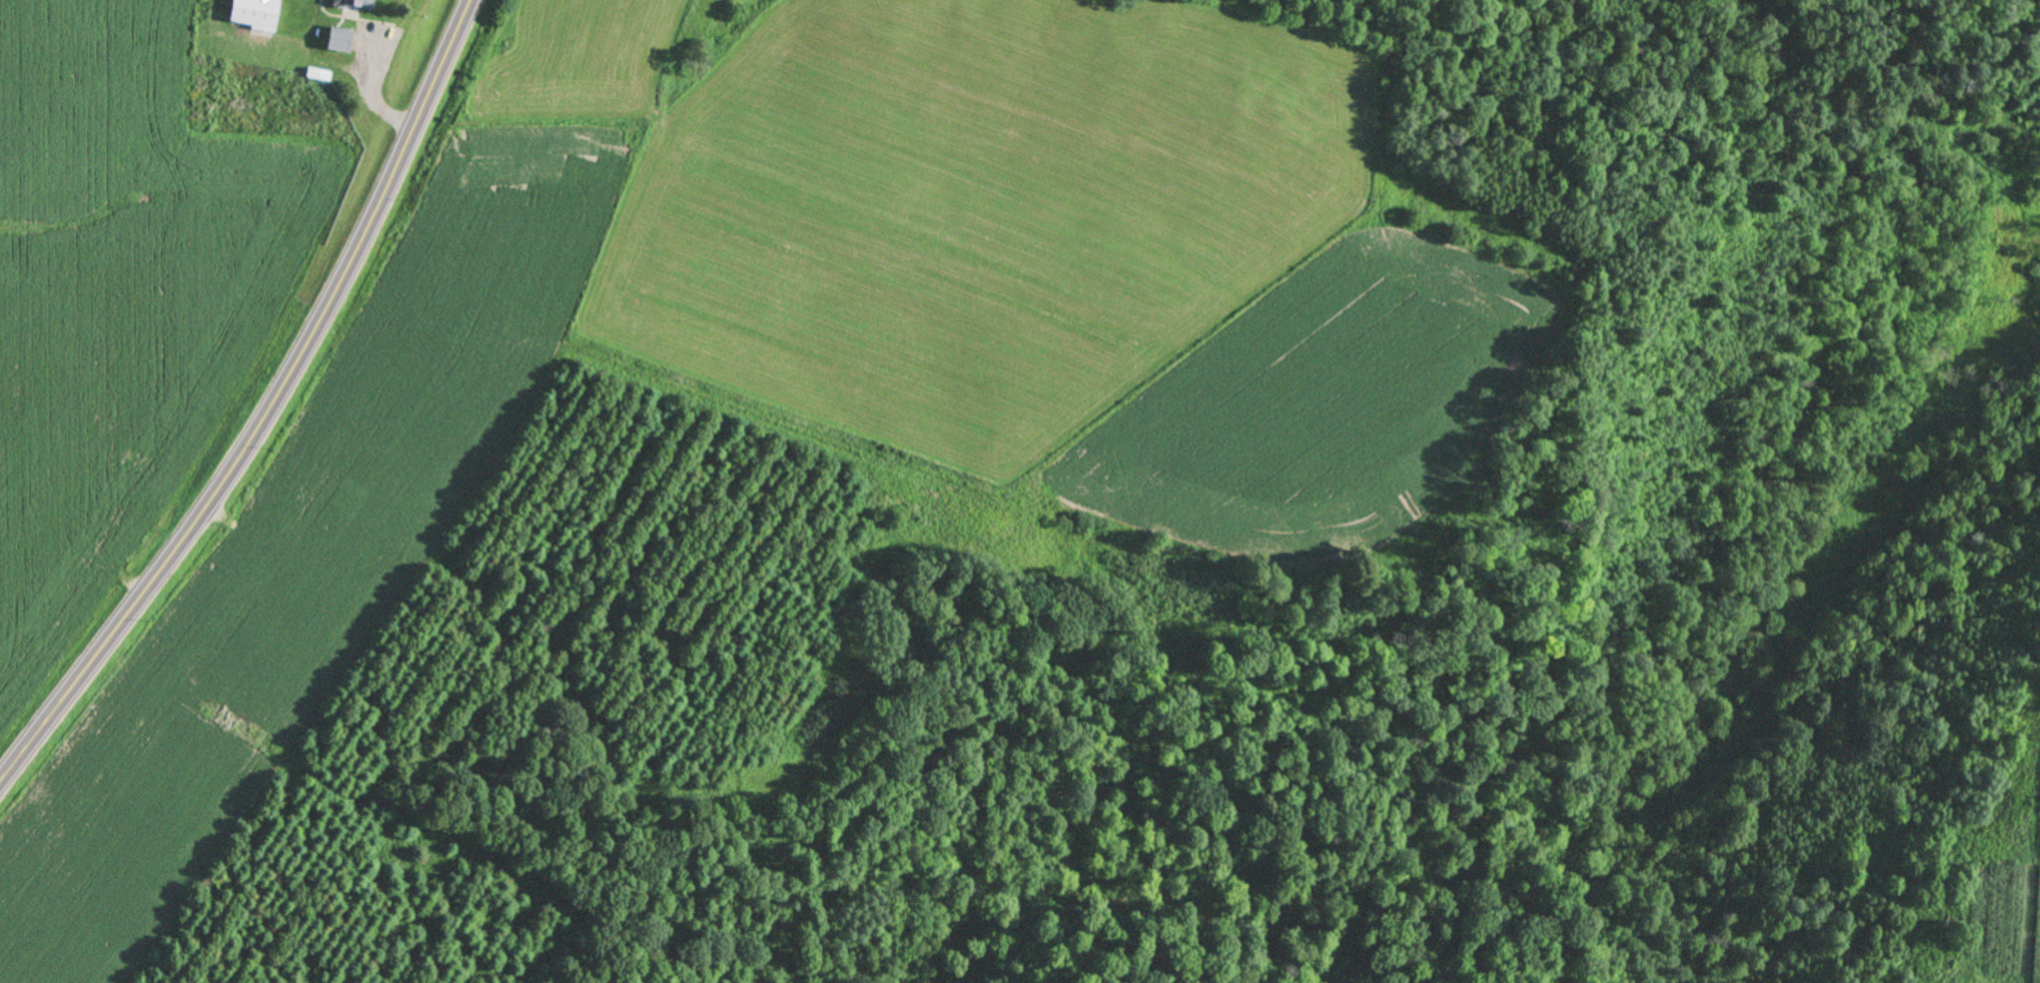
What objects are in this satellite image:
building: (352, 5)
building: (255, 15)
building: (337, 41)
road: (273, 406)

